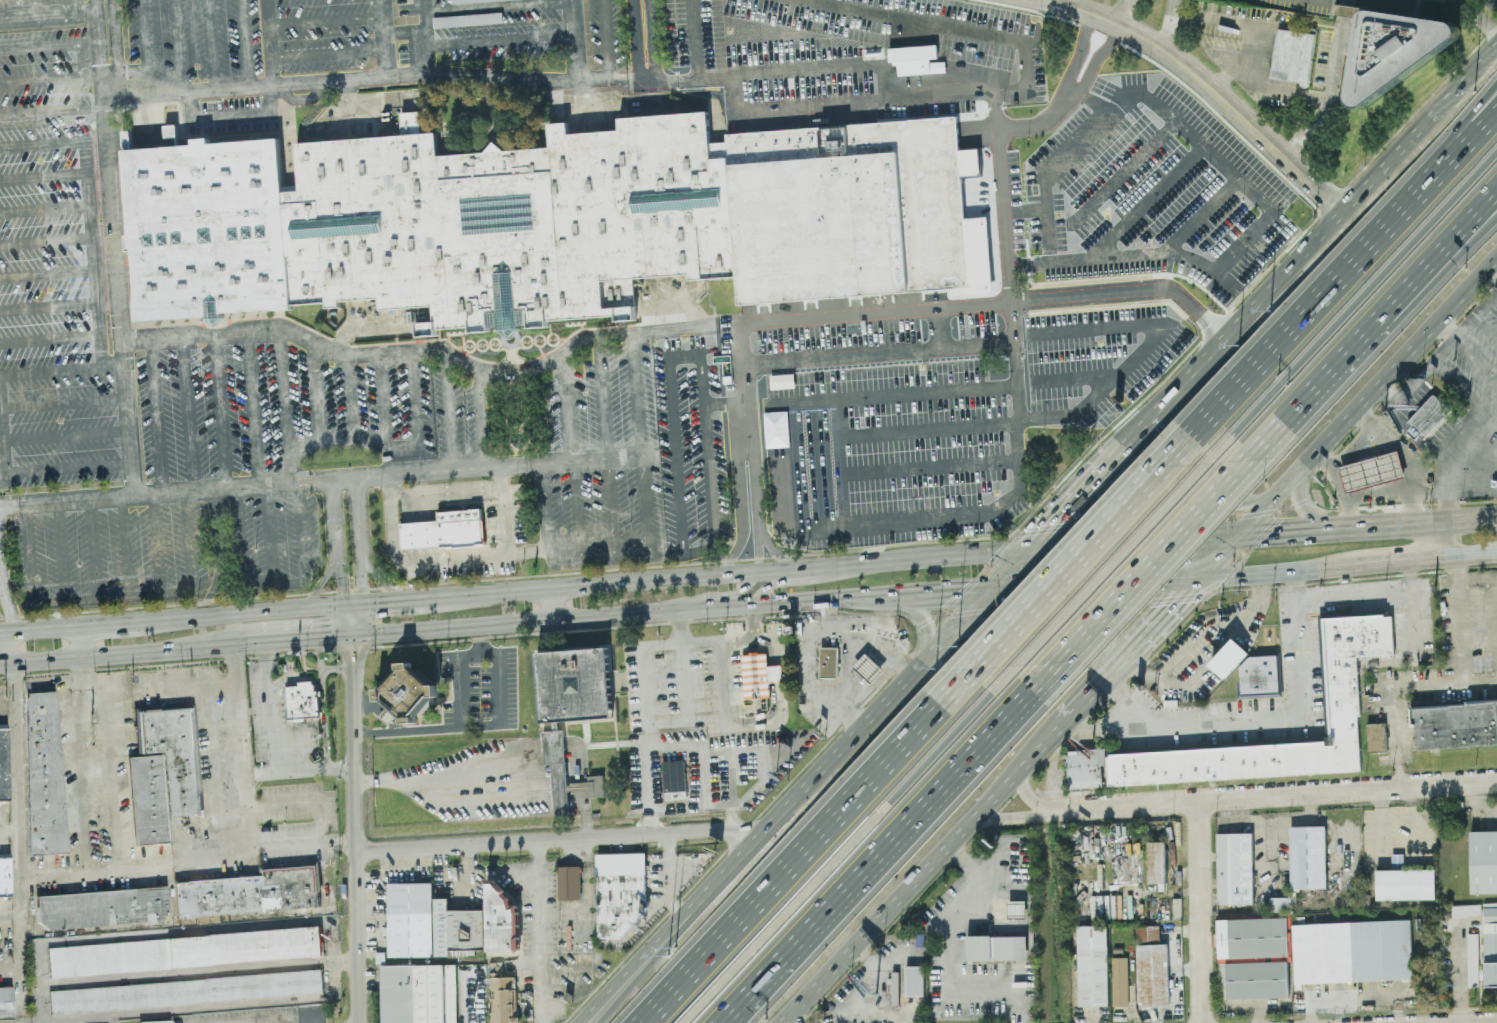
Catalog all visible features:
building: (474, 0)
road: (67, 6)
road: (490, 6)
road: (37, 7)
road: (2, 9)
road: (974, 9)
road: (49, 14)
road: (1479, 17)
building: (467, 19)
road: (325, 20)
road: (1167, 28)
road: (403, 31)
road: (842, 34)
road: (423, 35)
road: (809, 35)
road: (778, 36)
road: (101, 37)
road: (116, 37)
road: (145, 37)
road: (383, 37)
road: (744, 37)
road: (872, 37)
road: (712, 38)
road: (574, 39)
road: (635, 39)
road: (678, 39)
road: (652, 40)
road: (270, 41)
road: (499, 41)
road: (906, 41)
road: (176, 42)
road: (245, 43)
road: (55, 44)
road: (212, 44)
road: (942, 47)
building: (1396, 49)
road: (327, 53)
road: (973, 54)
building: (1292, 55)
road: (1243, 56)
building: (913, 58)
road: (1028, 59)
road: (153, 75)
road: (1227, 76)
road: (39, 77)
road: (1466, 78)
road: (646, 79)
road: (111, 84)
road: (1211, 89)
road: (1330, 96)
road: (808, 107)
road: (56, 110)
road: (232, 116)
road: (43, 175)
building: (857, 207)
road: (45, 208)
road: (1487, 211)
road: (1487, 212)
road: (999, 222)
building: (424, 223)
road: (46, 240)
road: (93, 245)
road: (1302, 255)
road: (1353, 264)
road: (1495, 267)
road: (48, 273)
road: (119, 294)
road: (1365, 295)
road: (1465, 296)
road: (49, 305)
road: (1486, 327)
road: (935, 328)
road: (672, 329)
road: (1448, 330)
road: (1367, 338)
road: (874, 353)
road: (1441, 355)
road: (1475, 362)
road: (62, 364)
road: (741, 387)
road: (705, 389)
road: (284, 392)
road: (670, 392)
road: (905, 393)
road: (318, 395)
road: (637, 395)
road: (603, 397)
road: (351, 398)
road: (414, 399)
road: (63, 401)
road: (381, 401)
road: (807, 402)
road: (254, 407)
road: (565, 408)
road: (221, 409)
road: (448, 411)
road: (189, 412)
building: (1416, 412)
road: (157, 414)
road: (1080, 416)
road: (480, 418)
road: (1144, 426)
road: (65, 433)
road: (1338, 435)
road: (1489, 442)
road: (326, 443)
road: (402, 448)
road: (1355, 449)
road: (1407, 459)
road: (1050, 461)
road: (1454, 463)
road: (507, 466)
road: (34, 470)
road: (1009, 470)
building: (1371, 471)
road: (754, 487)
road: (885, 487)
road: (1344, 489)
road: (783, 490)
road: (849, 491)
road: (1401, 492)
road: (1073, 502)
road: (1178, 503)
road: (677, 504)
road: (645, 507)
road: (546, 510)
road: (610, 510)
road: (1306, 511)
road: (574, 512)
road: (740, 518)
traffic signals: (1053, 522)
road: (1466, 523)
road: (1384, 527)
building: (445, 530)
road: (266, 533)
road: (901, 533)
road: (1286, 533)
traffic signals: (1267, 535)
road: (359, 541)
road: (1132, 542)
road: (1436, 542)
road: (157, 543)
road: (126, 545)
road: (1091, 545)
road: (92, 547)
road: (757, 548)
traffic signals: (1056, 548)
road: (529, 549)
road: (775, 549)
road: (60, 550)
road: (1124, 551)
road: (219, 553)
road: (676, 553)
road: (1219, 557)
road: (1466, 557)
road: (453, 558)
road: (913, 559)
road: (1161, 560)
road: (1399, 563)
road: (340, 566)
road: (779, 570)
road: (1280, 573)
road: (799, 579)
road: (1477, 579)
traffic signals: (1168, 581)
road: (277, 584)
road: (590, 585)
road: (985, 591)
traffic signals: (950, 595)
road: (111, 598)
road: (706, 598)
road: (6, 600)
road: (1253, 601)
road: (394, 602)
traffic signals: (1178, 602)
traffic signals: (364, 605)
traffic signals: (344, 606)
road: (551, 607)
road: (772, 608)
road: (252, 613)
road: (919, 613)
road: (1495, 613)
road: (1164, 616)
road: (879, 620)
road: (1460, 620)
road: (1052, 622)
road: (110, 624)
road: (754, 625)
road: (362, 628)
road: (39, 629)
road: (837, 629)
traffic signals: (362, 632)
traffic signals: (345, 634)
road: (479, 634)
road: (291, 638)
road: (711, 640)
road: (79, 642)
road: (481, 647)
road: (126, 652)
road: (853, 655)
road: (0, 656)
building: (1228, 657)
building: (828, 662)
road: (8, 663)
road: (456, 663)
road: (0, 664)
building: (868, 667)
road: (336, 668)
road: (684, 668)
road: (1113, 669)
road: (83, 673)
building: (755, 674)
building: (1259, 677)
road: (724, 683)
road: (155, 684)
building: (574, 684)
road: (1298, 687)
road: (1393, 688)
building: (408, 692)
road: (1129, 698)
building: (1340, 699)
building: (302, 700)
road: (322, 701)
road: (779, 702)
road: (8, 703)
road: (1079, 705)
road: (269, 706)
road: (666, 722)
building: (1454, 725)
road: (854, 734)
building: (1376, 737)
road: (646, 738)
road: (242, 745)
road: (725, 745)
road: (304, 748)
building: (3, 764)
road: (208, 766)
building: (556, 767)
building: (163, 769)
road: (299, 770)
building: (43, 771)
road: (500, 771)
road: (692, 771)
building: (674, 775)
road: (114, 777)
road: (80, 780)
building: (596, 785)
road: (1023, 793)
road: (1269, 795)
road: (282, 803)
road: (731, 815)
road: (1006, 816)
road: (318, 822)
road: (10, 830)
road: (739, 830)
road: (355, 836)
road: (20, 837)
road: (537, 838)
road: (848, 845)
road: (894, 845)
road: (270, 847)
road: (807, 848)
building: (1307, 856)
building: (1155, 861)
building: (1483, 861)
building: (1234, 867)
road: (94, 869)
building: (4, 873)
road: (920, 873)
building: (569, 882)
building: (1405, 883)
building: (249, 890)
building: (619, 891)
building: (1278, 903)
building: (102, 906)
building: (1016, 908)
building: (1466, 909)
road: (1202, 911)
road: (10, 914)
building: (501, 918)
building: (410, 919)
road: (187, 920)
road: (669, 928)
road: (679, 928)
building: (457, 929)
road: (539, 931)
road: (186, 933)
building: (1147, 934)
building: (1490, 942)
building: (996, 946)
building: (185, 950)
building: (1352, 950)
road: (946, 953)
building: (1254, 955)
building: (1473, 959)
building: (1092, 964)
road: (10, 967)
building: (495, 967)
road: (198, 972)
building: (1153, 974)
building: (914, 979)
building: (1119, 981)
road: (41, 983)
building: (184, 990)
road: (865, 991)
building: (419, 994)
building: (502, 999)
building: (6, 1000)
road: (205, 1008)
road: (794, 1016)
road: (22, 1018)
road: (114, 1019)
road: (78, 1021)
road: (41, 1022)

